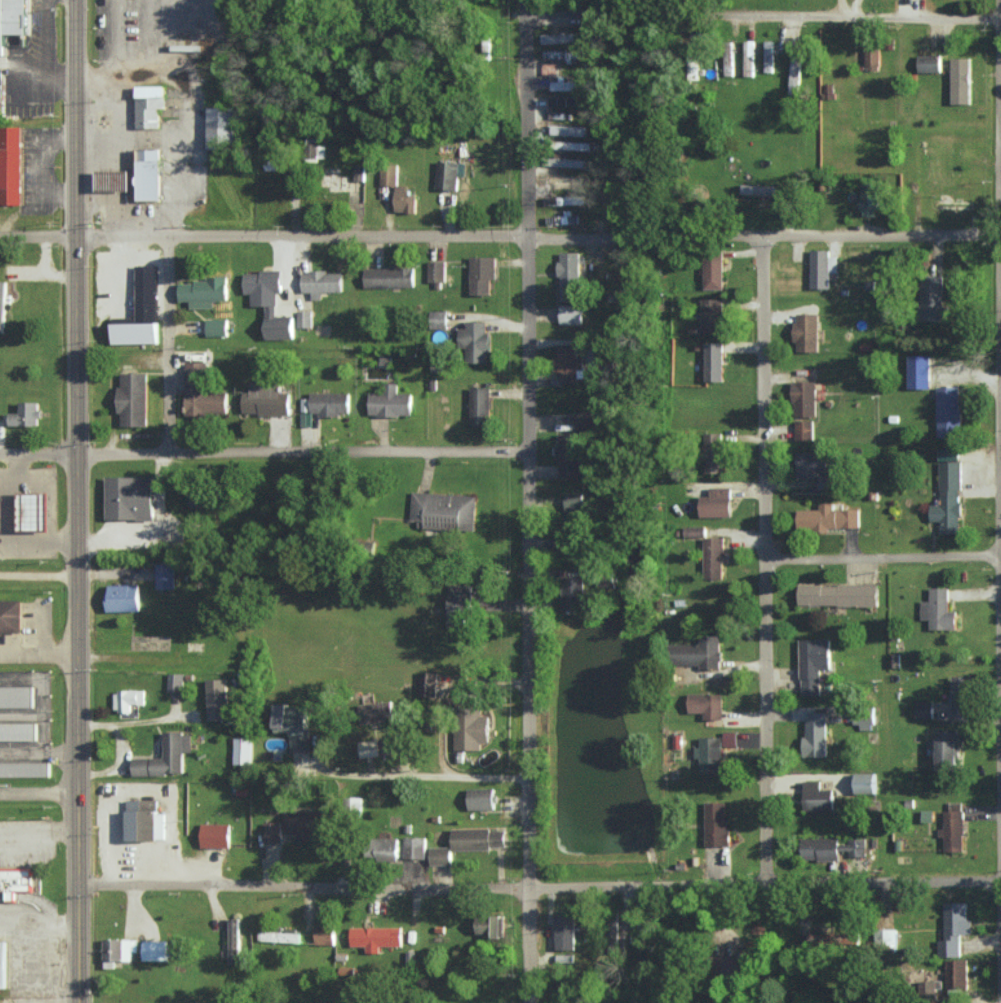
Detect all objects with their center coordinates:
road: (768, 20)
building: (13, 21)
building: (557, 37)
building: (768, 55)
building: (872, 56)
building: (749, 57)
building: (929, 63)
building: (728, 64)
building: (549, 68)
building: (795, 73)
building: (960, 80)
building: (565, 85)
building: (565, 100)
building: (148, 104)
building: (220, 126)
building: (580, 145)
building: (313, 147)
building: (10, 166)
parking lot: (30, 166)
building: (359, 172)
building: (147, 173)
building: (446, 174)
building: (388, 175)
building: (113, 181)
gas station: (113, 181)
building: (764, 188)
road: (84, 194)
building: (869, 198)
building: (571, 199)
building: (404, 200)
building: (952, 203)
road: (500, 235)
building: (821, 267)
building: (436, 270)
building: (713, 271)
building: (481, 273)
building: (568, 275)
building: (388, 276)
building: (321, 282)
building: (202, 292)
building: (931, 298)
building: (268, 301)
building: (2, 304)
building: (570, 313)
building: (711, 315)
building: (304, 318)
building: (438, 319)
building: (216, 326)
building: (136, 328)
building: (806, 331)
building: (474, 341)
road: (168, 343)
building: (713, 361)
building: (567, 362)
building: (919, 371)
building: (201, 392)
building: (265, 399)
building: (804, 399)
building: (134, 400)
building: (390, 401)
building: (329, 402)
building: (479, 405)
building: (948, 411)
building: (25, 414)
building: (586, 420)
building: (803, 429)
road: (268, 452)
building: (713, 452)
building: (568, 456)
building: (814, 468)
building: (948, 492)
building: (130, 498)
building: (573, 500)
road: (535, 501)
building: (716, 503)
building: (443, 511)
building: (34, 512)
gas station: (34, 512)
parking lot: (1, 516)
building: (827, 517)
building: (694, 531)
building: (713, 557)
road: (776, 566)
road: (888, 567)
building: (164, 575)
building: (572, 593)
building: (838, 594)
building: (122, 597)
building: (457, 607)
building: (938, 609)
building: (11, 616)
parking lot: (30, 636)
building: (697, 651)
building: (813, 663)
building: (175, 682)
building: (427, 684)
building: (960, 694)
road: (81, 695)
building: (16, 696)
building: (217, 698)
building: (126, 699)
building: (706, 705)
building: (924, 709)
building: (375, 711)
building: (290, 717)
building: (861, 720)
building: (470, 728)
building: (18, 731)
building: (815, 734)
building: (730, 739)
building: (299, 743)
building: (368, 748)
building: (242, 750)
building: (946, 750)
building: (709, 754)
building: (165, 756)
building: (24, 769)
road: (413, 778)
building: (864, 782)
road: (40, 792)
building: (817, 796)
building: (481, 798)
building: (927, 815)
building: (143, 821)
building: (302, 823)
building: (716, 823)
building: (952, 828)
building: (271, 831)
building: (215, 834)
building: (478, 838)
parking lot: (25, 844)
building: (414, 847)
building: (385, 848)
building: (830, 848)
building: (440, 855)
building: (16, 882)
road: (539, 886)
building: (489, 925)
building: (803, 925)
building: (954, 929)
building: (564, 931)
building: (324, 934)
building: (278, 936)
building: (375, 937)
building: (850, 938)
building: (891, 939)
building: (234, 940)
building: (117, 950)
building: (154, 950)
building: (564, 958)
building: (3, 965)
building: (956, 973)
building: (926, 988)

